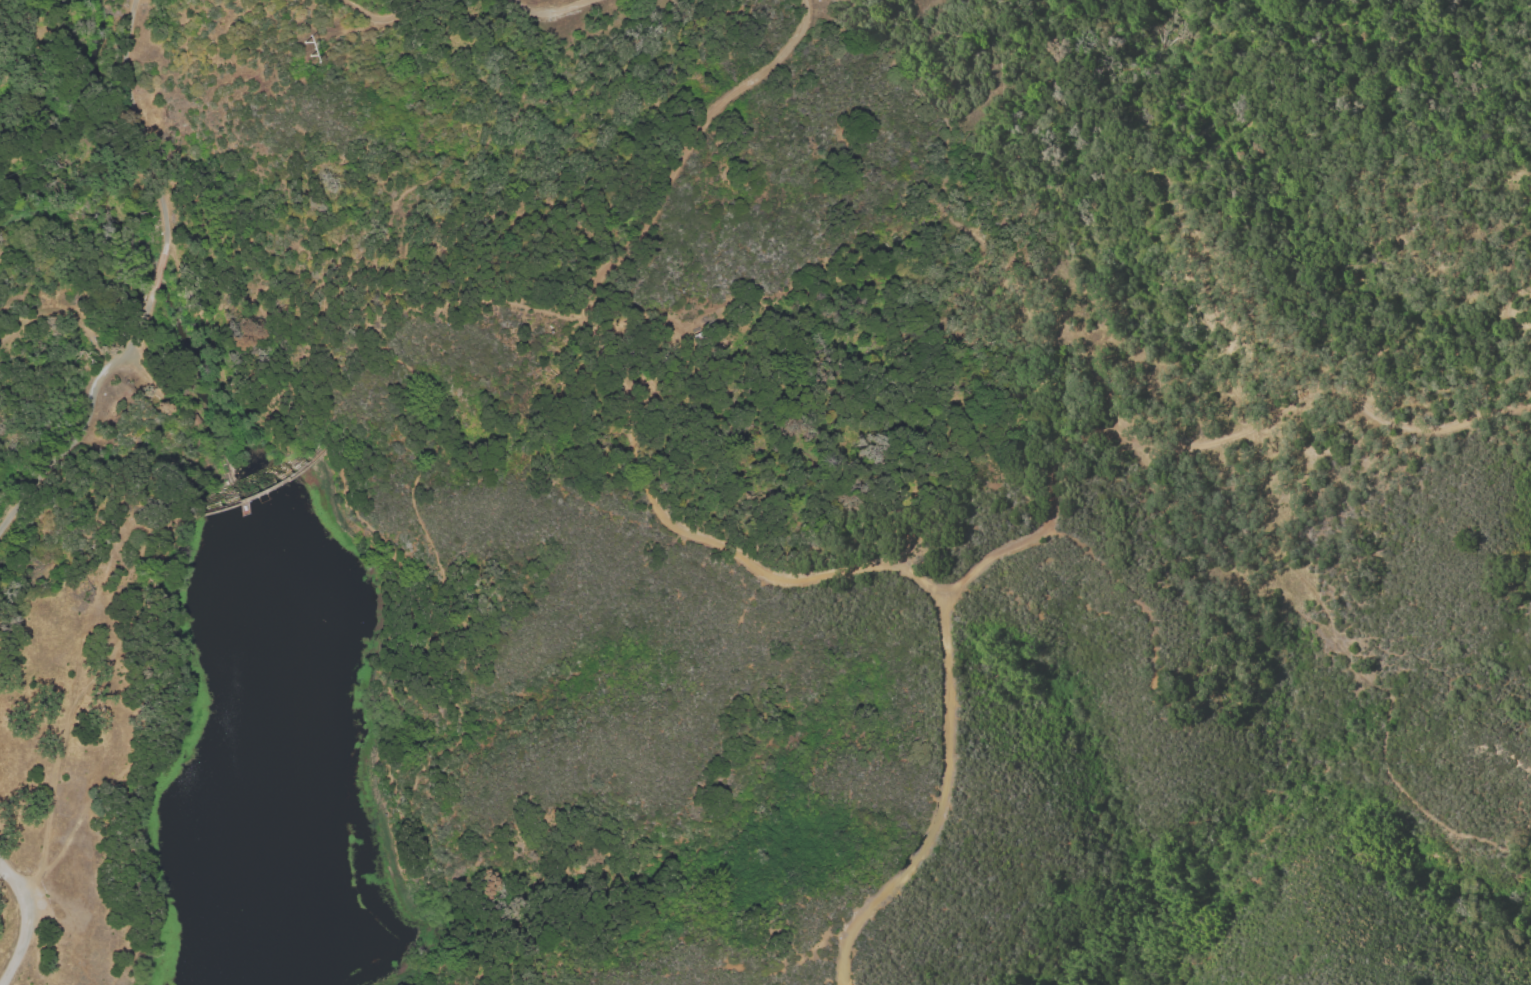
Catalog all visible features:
road: (553, 12)
road: (379, 17)
road: (143, 127)
road: (415, 190)
road: (160, 272)
road: (453, 298)
road: (64, 310)
building: (701, 340)
road: (1362, 355)
road: (613, 372)
road: (92, 422)
road: (1203, 443)
dam: (253, 483)
road: (542, 487)
road: (260, 493)
road: (401, 553)
road: (448, 608)
road: (152, 706)
road: (53, 770)
road: (938, 807)
road: (24, 922)

